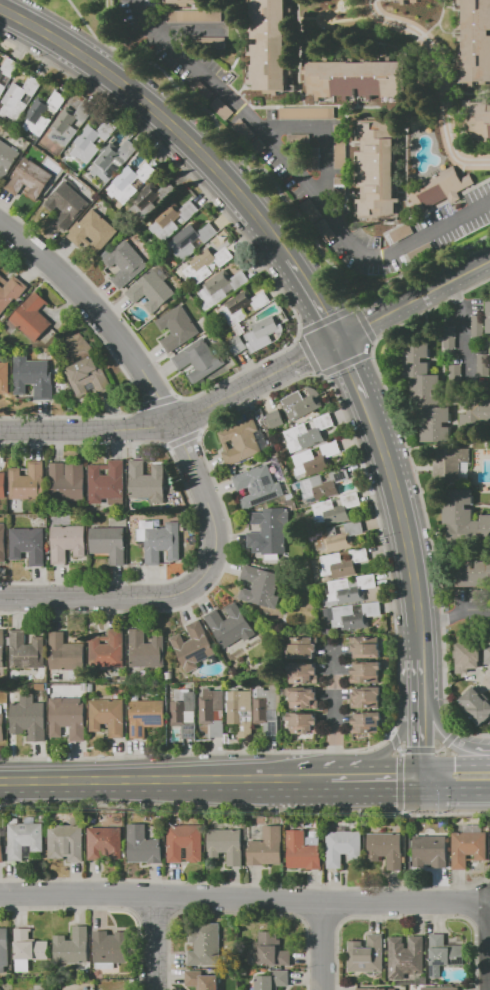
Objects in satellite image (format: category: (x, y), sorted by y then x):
building: (185, 2)
building: (194, 16)
road: (105, 20)
road: (181, 29)
building: (476, 41)
building: (268, 46)
building: (7, 73)
building: (353, 78)
road: (443, 79)
building: (19, 98)
building: (45, 113)
building: (307, 113)
building: (479, 116)
building: (70, 123)
building: (0, 127)
road: (323, 135)
building: (94, 138)
road: (221, 139)
building: (298, 139)
building: (340, 146)
road: (195, 148)
building: (9, 155)
building: (314, 158)
building: (113, 159)
building: (377, 172)
road: (299, 175)
building: (68, 176)
building: (29, 178)
building: (130, 182)
building: (340, 190)
building: (445, 190)
building: (150, 200)
building: (66, 204)
building: (173, 219)
building: (91, 229)
building: (190, 240)
building: (125, 263)
building: (207, 263)
building: (222, 286)
building: (151, 290)
building: (10, 291)
road: (415, 300)
building: (244, 305)
building: (488, 316)
building: (32, 317)
road: (297, 318)
road: (326, 318)
road: (464, 320)
road: (364, 323)
building: (478, 326)
building: (177, 328)
building: (265, 332)
building: (449, 337)
traffic signals: (341, 339)
building: (237, 345)
road: (307, 351)
building: (198, 360)
road: (346, 362)
building: (484, 365)
road: (354, 368)
road: (123, 371)
road: (141, 373)
building: (456, 374)
building: (35, 376)
building: (88, 376)
building: (4, 377)
road: (445, 384)
building: (426, 392)
road: (155, 400)
building: (302, 403)
building: (475, 410)
road: (187, 413)
building: (276, 418)
road: (179, 419)
road: (150, 424)
building: (308, 433)
road: (474, 441)
building: (240, 442)
road: (441, 446)
road: (471, 448)
road: (428, 457)
building: (316, 459)
building: (450, 464)
road: (425, 468)
building: (67, 481)
building: (106, 481)
building: (147, 481)
building: (27, 482)
road: (417, 483)
building: (2, 484)
building: (298, 485)
building: (258, 486)
road: (369, 487)
building: (319, 488)
building: (290, 496)
building: (304, 503)
building: (16, 505)
building: (336, 508)
building: (462, 517)
road: (196, 518)
road: (410, 524)
building: (269, 529)
building: (338, 536)
building: (68, 541)
building: (161, 541)
building: (3, 542)
building: (109, 543)
building: (28, 544)
building: (342, 563)
building: (473, 573)
building: (260, 586)
building: (349, 589)
building: (477, 595)
road: (110, 597)
building: (329, 613)
road: (456, 613)
building: (355, 615)
building: (230, 625)
building: (324, 631)
building: (193, 646)
building: (302, 647)
building: (366, 647)
building: (2, 649)
building: (107, 649)
building: (145, 649)
building: (28, 651)
building: (65, 652)
building: (488, 654)
building: (468, 656)
building: (303, 672)
building: (366, 672)
road: (424, 680)
building: (50, 685)
building: (41, 686)
building: (84, 686)
building: (91, 687)
building: (303, 697)
building: (365, 697)
building: (477, 705)
building: (267, 710)
building: (184, 711)
building: (213, 711)
building: (241, 711)
building: (28, 716)
building: (107, 716)
building: (146, 716)
road: (333, 716)
building: (67, 717)
building: (303, 722)
building: (366, 722)
building: (2, 726)
road: (451, 735)
road: (451, 736)
road: (425, 741)
road: (394, 742)
road: (393, 744)
road: (438, 748)
road: (416, 750)
road: (456, 765)
road: (166, 780)
road: (344, 780)
road: (391, 780)
road: (399, 780)
traffic signals: (427, 780)
road: (457, 790)
road: (244, 807)
building: (24, 838)
building: (67, 840)
building: (105, 842)
building: (185, 843)
building: (143, 845)
building: (226, 845)
building: (468, 845)
building: (267, 846)
building: (343, 846)
building: (385, 848)
building: (1, 849)
building: (303, 850)
building: (430, 850)
road: (406, 853)
road: (245, 883)
road: (132, 895)
road: (178, 896)
road: (244, 899)
road: (300, 902)
road: (339, 903)
road: (106, 908)
road: (154, 911)
road: (234, 912)
road: (405, 915)
road: (320, 920)
road: (154, 942)
building: (205, 944)
building: (29, 945)
building: (72, 946)
road: (488, 946)
building: (109, 947)
road: (322, 947)
building: (4, 948)
building: (269, 950)
building: (366, 954)
building: (443, 954)
building: (405, 956)
building: (202, 980)
building: (272, 980)
building: (440, 988)
building: (376, 989)

